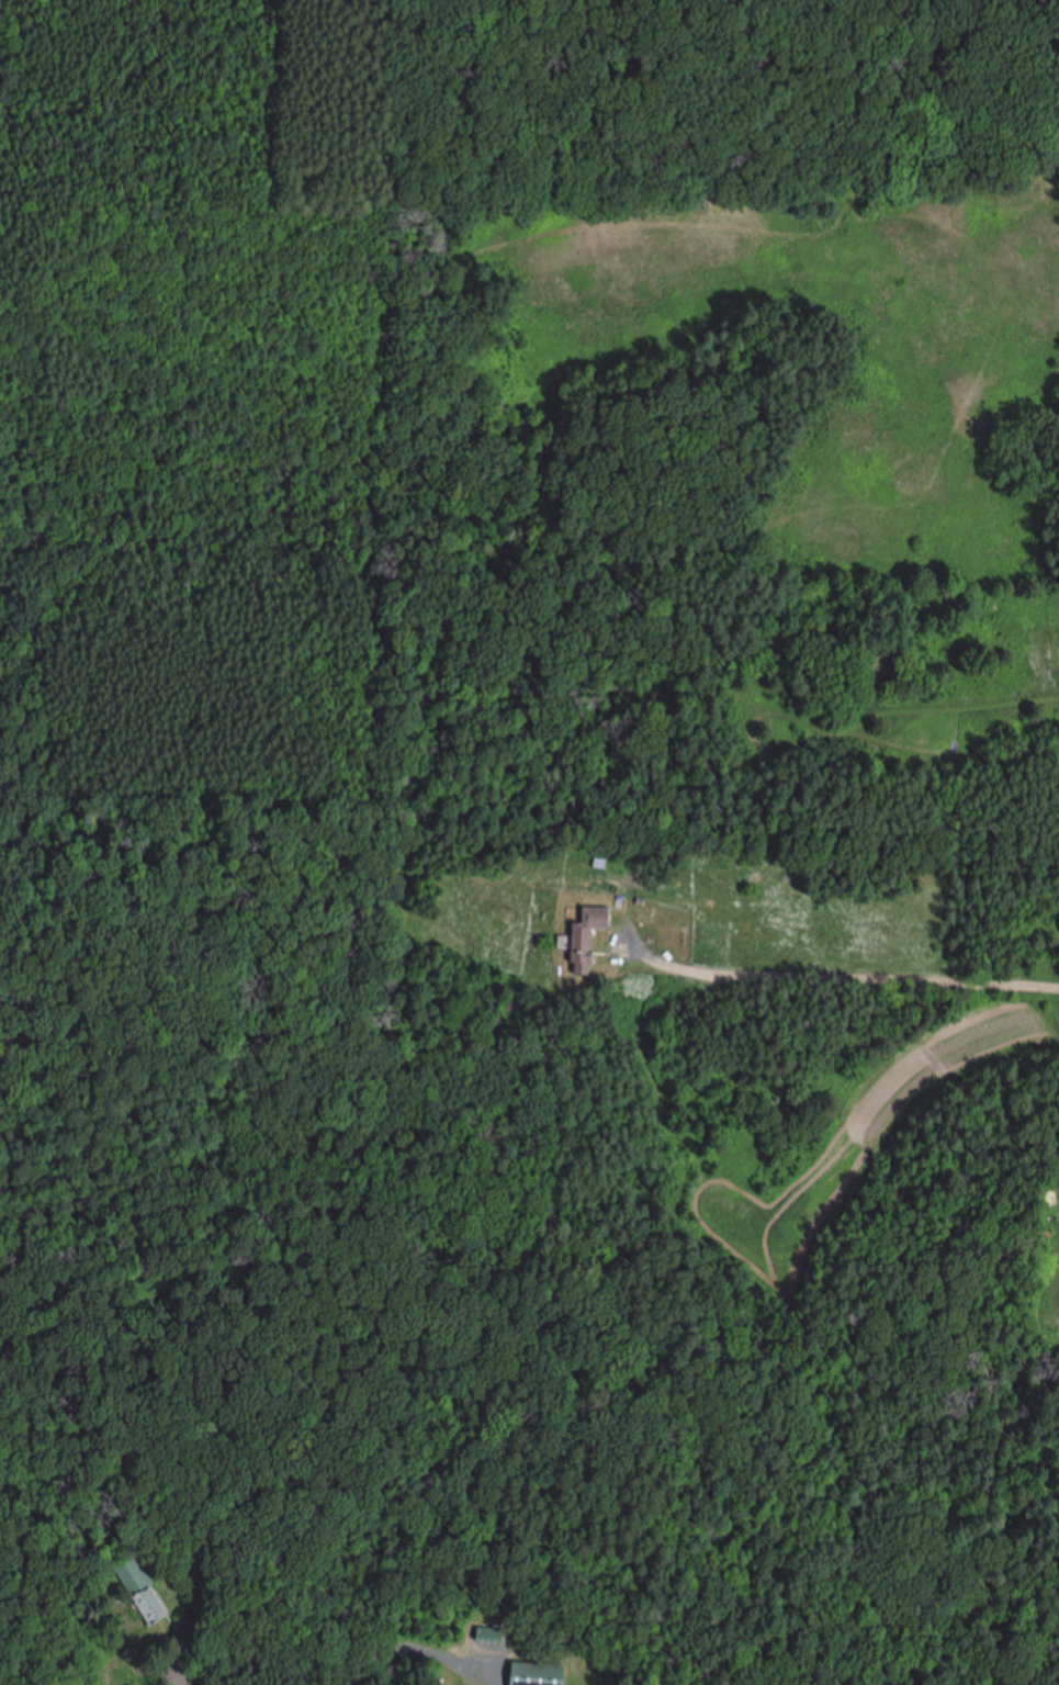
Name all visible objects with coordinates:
building: (584, 939)
road: (966, 963)
building: (137, 1591)
building: (532, 1675)

